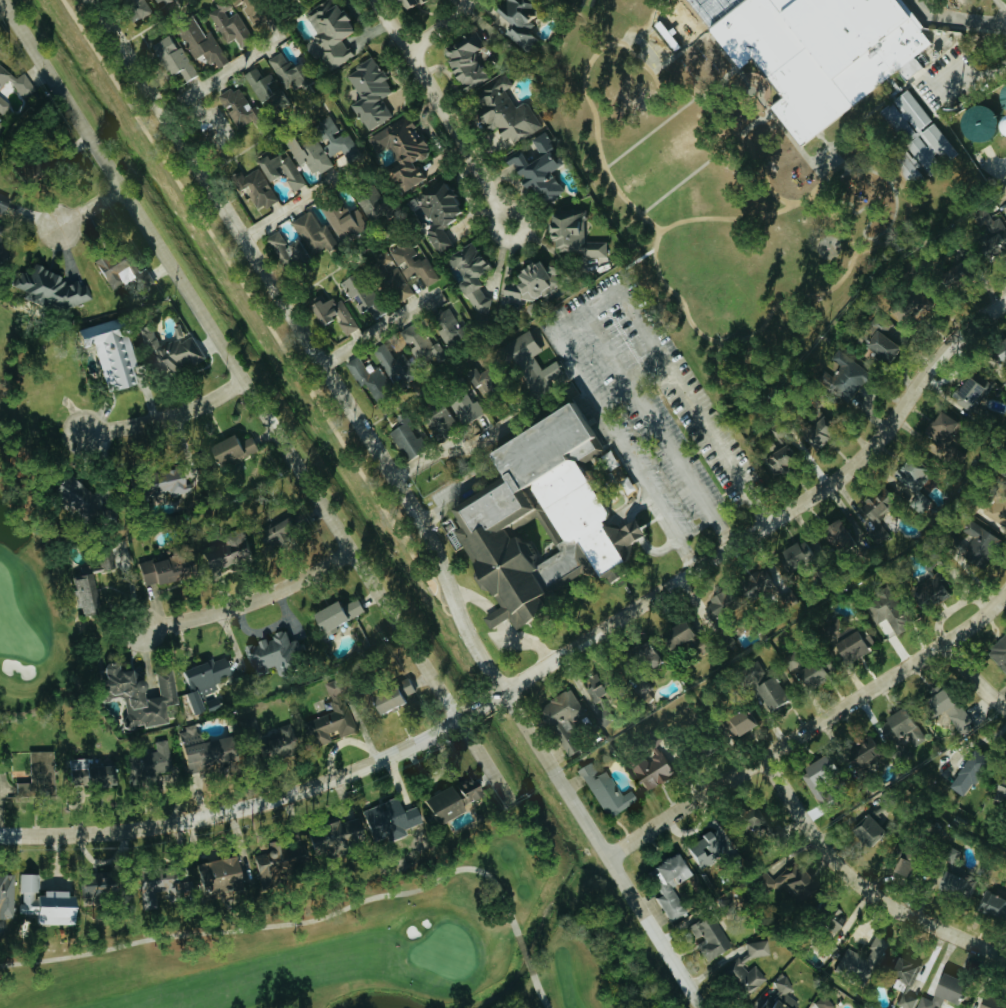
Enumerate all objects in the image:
building: (168, 2)
road: (1003, 2)
building: (417, 3)
road: (720, 7)
building: (142, 8)
building: (260, 10)
building: (528, 21)
building: (233, 23)
road: (398, 24)
road: (443, 25)
road: (945, 25)
building: (335, 32)
building: (206, 44)
building: (814, 54)
building: (177, 57)
building: (473, 60)
building: (294, 71)
road: (220, 76)
road: (968, 84)
building: (269, 86)
building: (27, 87)
building: (374, 91)
building: (243, 107)
building: (511, 112)
road: (670, 116)
building: (341, 142)
road: (470, 143)
building: (406, 148)
building: (313, 153)
road: (705, 164)
building: (545, 166)
building: (287, 169)
building: (37, 171)
building: (262, 188)
building: (375, 202)
road: (299, 203)
building: (5, 204)
road: (88, 210)
building: (445, 211)
building: (348, 222)
building: (995, 228)
building: (2, 233)
building: (318, 233)
building: (579, 234)
building: (293, 250)
building: (416, 263)
building: (119, 267)
building: (477, 274)
building: (399, 275)
building: (537, 287)
building: (50, 288)
building: (365, 296)
road: (586, 309)
building: (340, 315)
building: (453, 325)
road: (380, 331)
road: (773, 333)
building: (887, 339)
building: (426, 345)
building: (113, 351)
building: (175, 352)
road: (233, 358)
building: (541, 365)
building: (403, 369)
building: (855, 371)
building: (375, 378)
building: (493, 381)
building: (1005, 384)
building: (975, 393)
parking lot: (650, 397)
building: (473, 409)
building: (447, 415)
road: (165, 420)
road: (660, 427)
building: (948, 427)
building: (827, 434)
road: (481, 439)
building: (413, 440)
building: (241, 448)
building: (790, 459)
building: (922, 474)
building: (176, 482)
road: (411, 499)
building: (885, 503)
building: (83, 504)
building: (997, 512)
building: (536, 518)
building: (288, 532)
building: (852, 541)
building: (985, 545)
building: (233, 554)
building: (807, 554)
park: (29, 556)
building: (167, 571)
building: (91, 583)
building: (935, 593)
road: (247, 600)
building: (727, 609)
building: (344, 613)
park: (14, 622)
building: (696, 637)
building: (859, 645)
building: (1001, 654)
building: (278, 655)
road: (549, 661)
building: (812, 668)
road: (978, 668)
building: (205, 683)
building: (778, 693)
building: (137, 694)
building: (604, 697)
building: (395, 700)
building: (944, 709)
building: (332, 717)
building: (565, 720)
building: (749, 724)
road: (810, 731)
building: (902, 736)
building: (289, 740)
building: (212, 754)
road: (488, 757)
building: (150, 764)
building: (965, 771)
building: (89, 773)
building: (657, 773)
building: (38, 775)
building: (471, 790)
building: (998, 790)
building: (607, 792)
building: (449, 805)
building: (393, 820)
building: (748, 820)
building: (338, 838)
building: (701, 847)
building: (898, 859)
building: (282, 864)
building: (224, 877)
building: (787, 880)
building: (665, 883)
road: (861, 886)
building: (166, 889)
building: (966, 890)
building: (6, 897)
building: (64, 900)
building: (704, 934)
park: (358, 948)
building: (824, 948)
building: (879, 969)
building: (743, 970)
building: (779, 986)
building: (938, 992)
building: (775, 1001)
building: (981, 1002)
building: (820, 1003)

